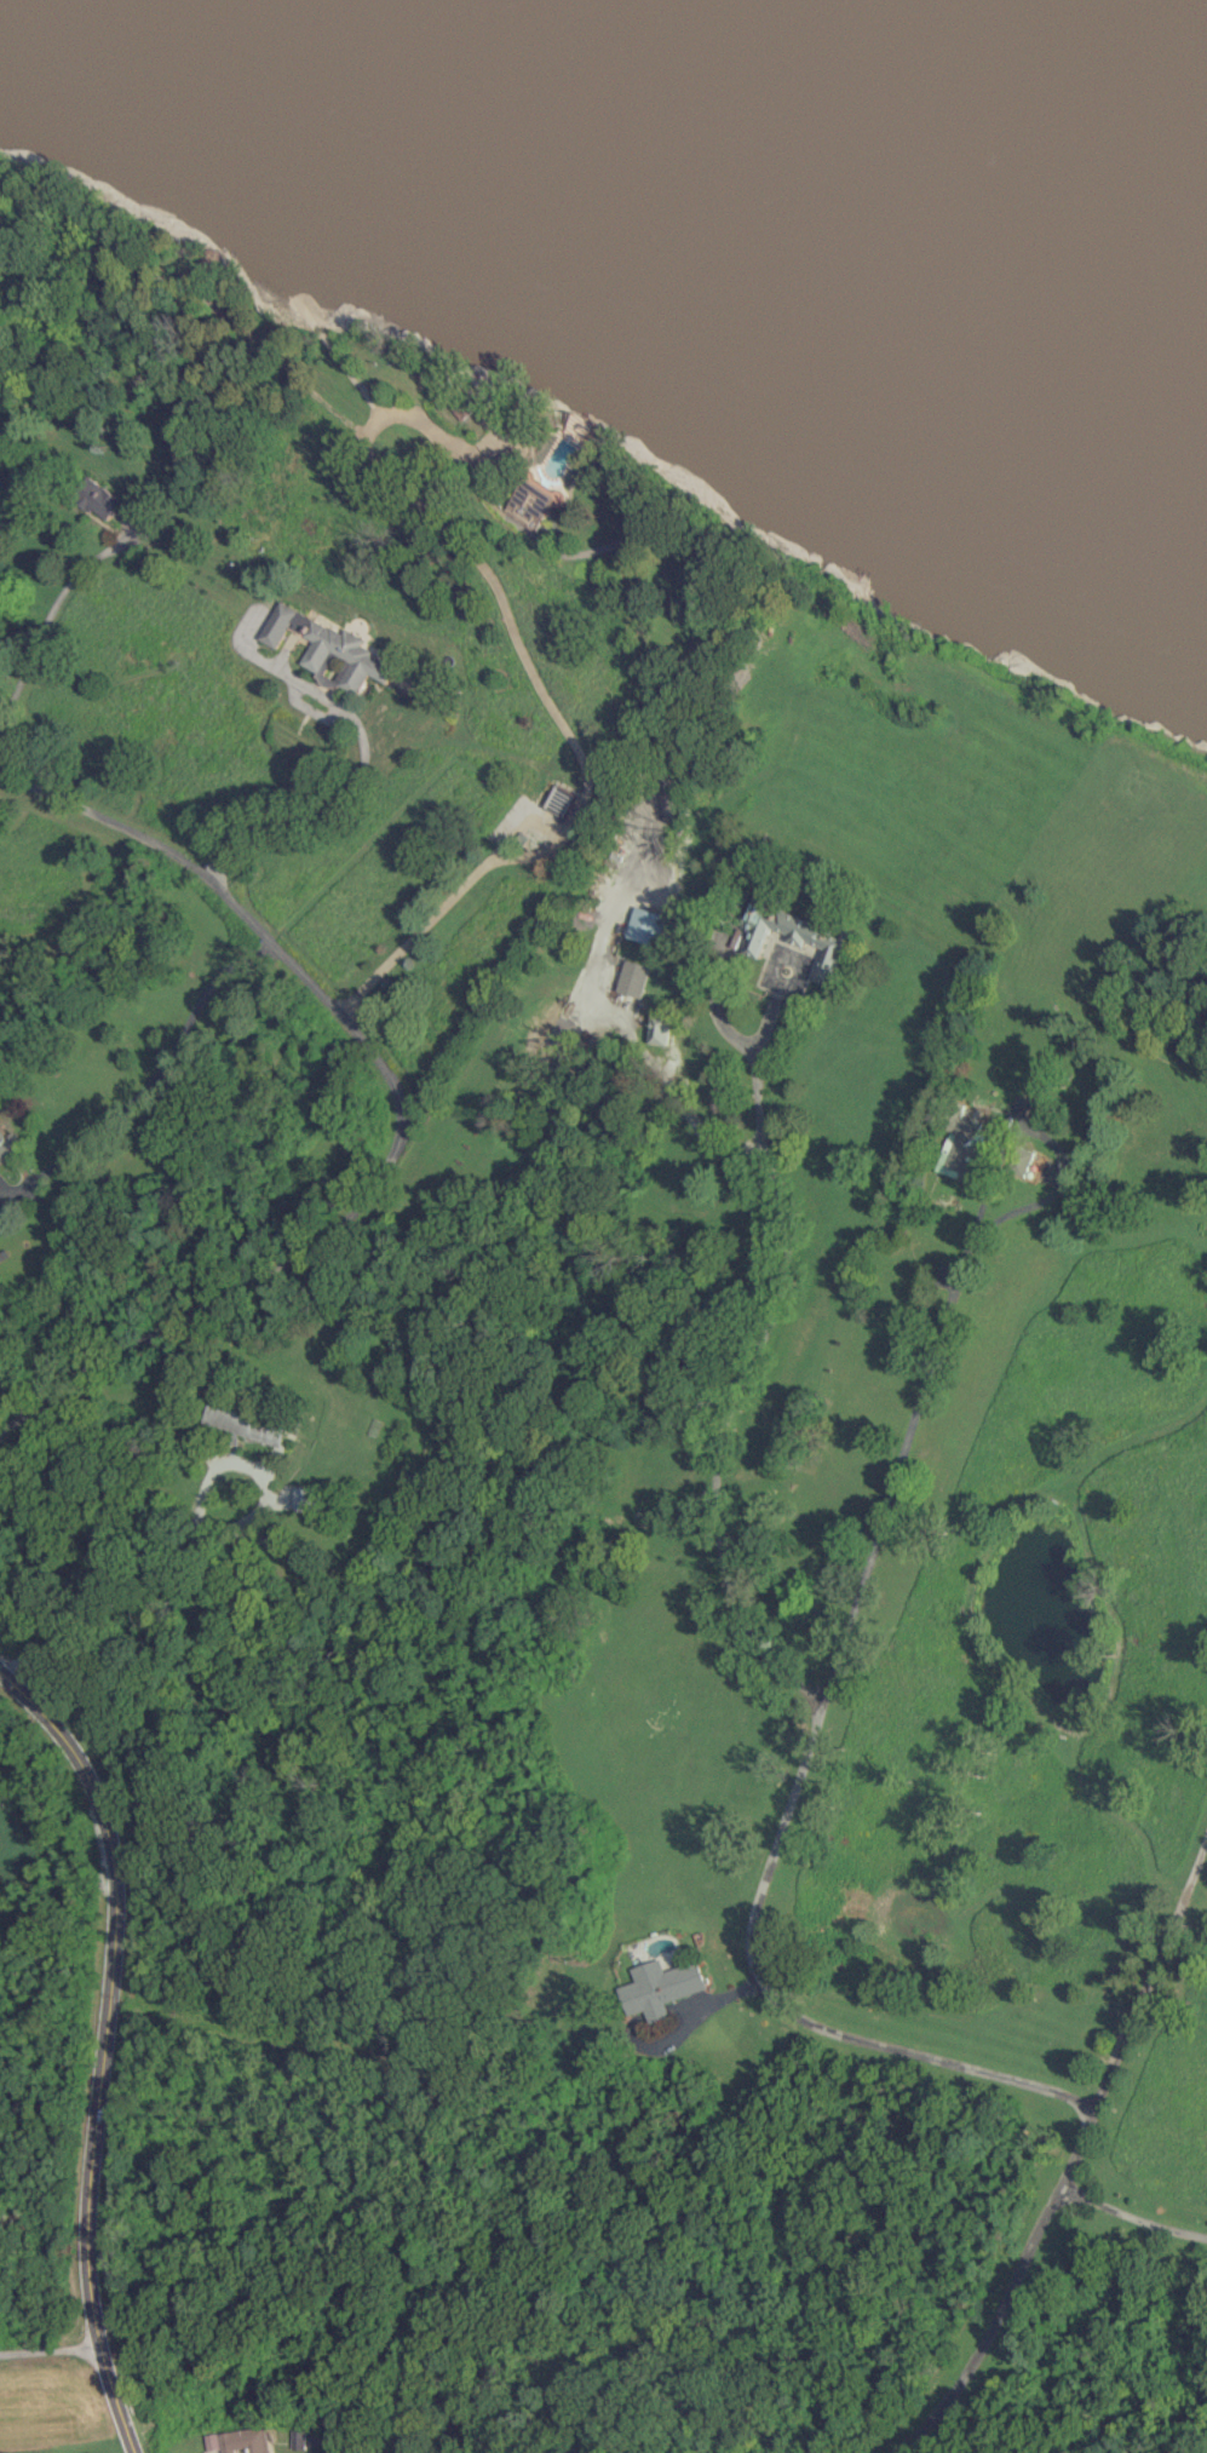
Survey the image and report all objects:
river: (1031, 88)
building: (580, 427)
building: (100, 499)
building: (527, 502)
road: (45, 625)
building: (329, 647)
road: (544, 700)
road: (354, 792)
road: (242, 909)
building: (644, 924)
building: (795, 936)
building: (631, 977)
building: (656, 1028)
road: (156, 1072)
road: (688, 1115)
building: (10, 1144)
building: (964, 1148)
building: (0, 1176)
road: (219, 1302)
road: (942, 1323)
road: (754, 1350)
building: (1, 1367)
building: (248, 1424)
building: (308, 1495)
road: (192, 1559)
building: (660, 1987)
road: (780, 2006)
road: (702, 2007)
road: (103, 2046)
road: (1074, 2156)
road: (1132, 2216)
road: (50, 2339)
crop: (47, 2405)
building: (300, 2438)
building: (242, 2440)

